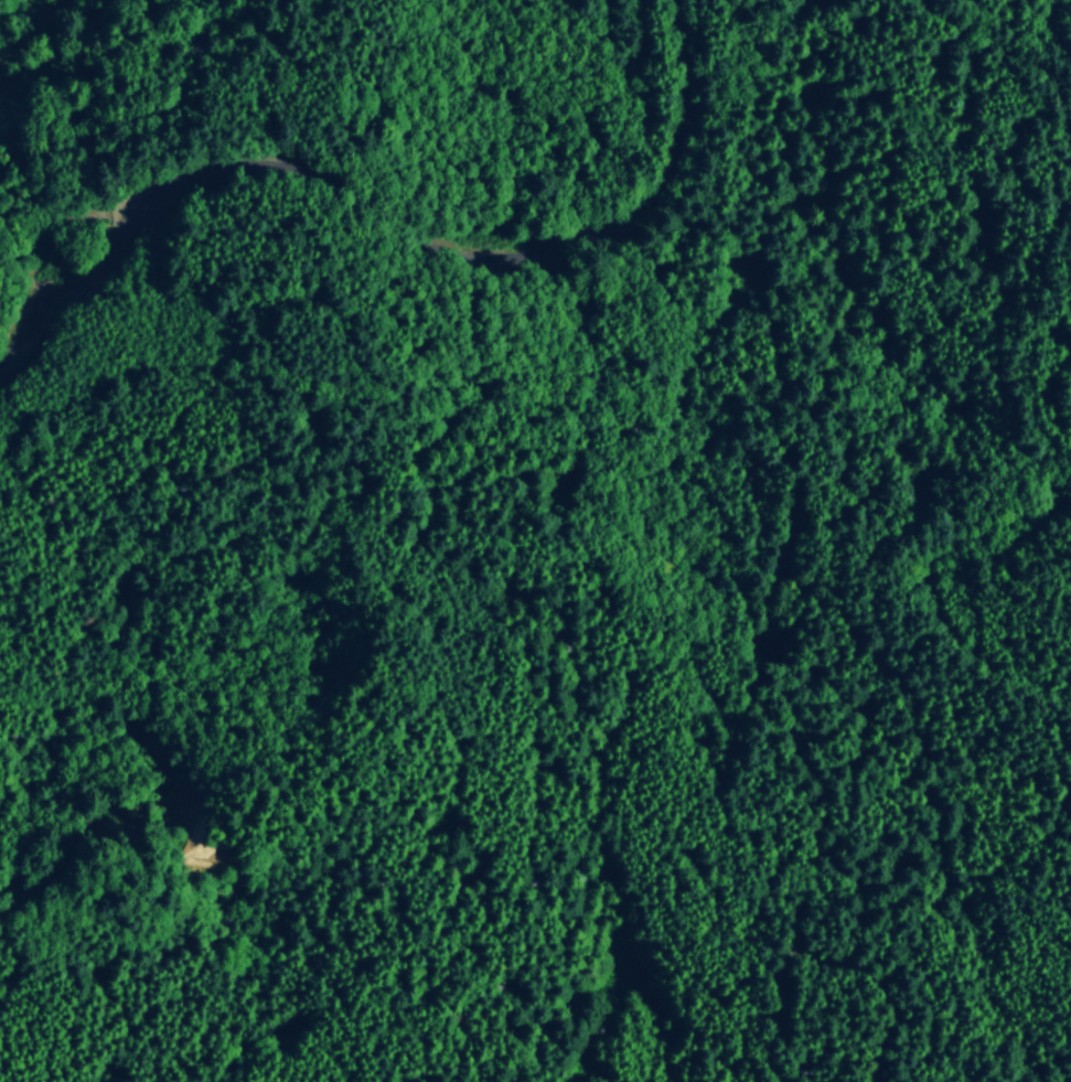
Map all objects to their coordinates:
road: (987, 36)
road: (383, 205)
road: (931, 597)

